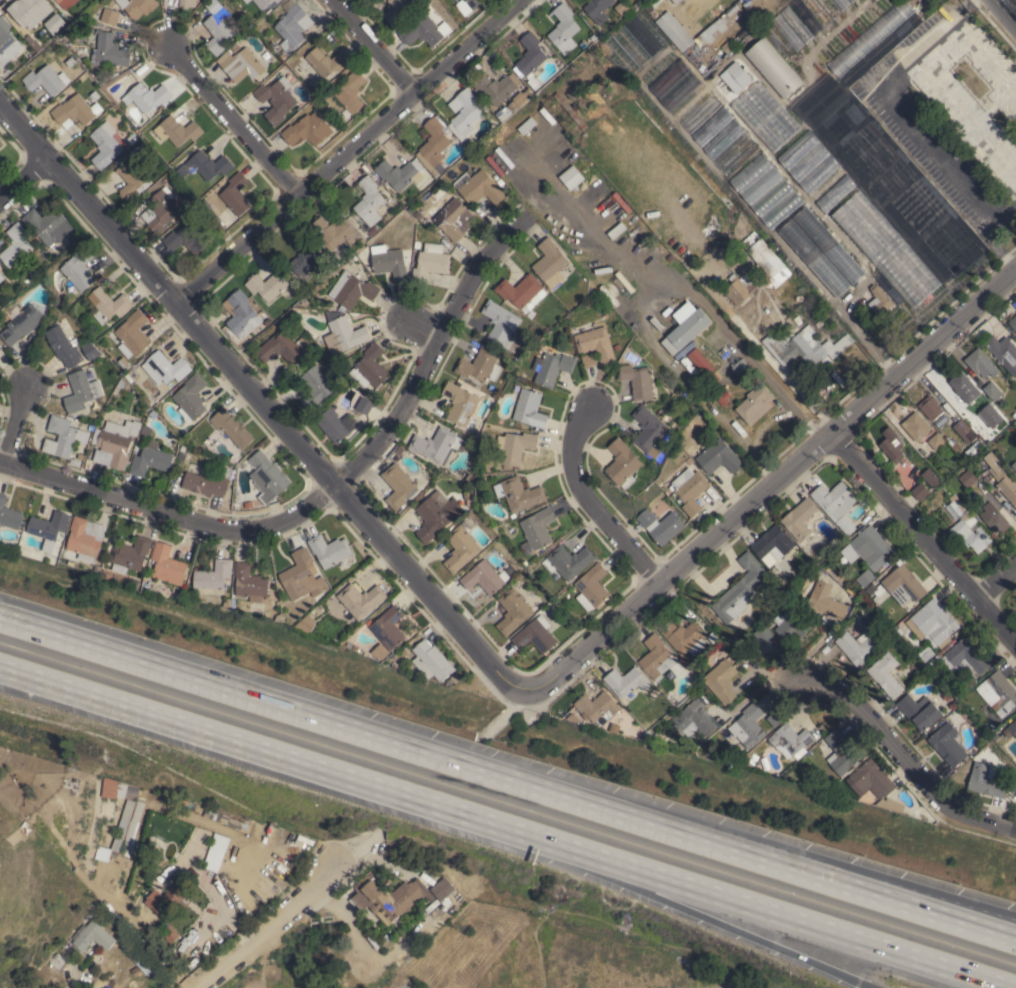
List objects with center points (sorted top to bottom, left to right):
building: (246, 1)
building: (277, 1)
building: (676, 1)
building: (66, 3)
building: (111, 3)
building: (187, 3)
building: (262, 3)
building: (473, 3)
building: (637, 4)
building: (137, 6)
building: (620, 7)
building: (597, 9)
building: (397, 10)
road: (1004, 12)
building: (32, 14)
building: (109, 15)
building: (64, 23)
building: (293, 24)
building: (217, 26)
building: (242, 26)
building: (563, 29)
road: (832, 29)
building: (698, 30)
building: (424, 31)
building: (593, 37)
building: (7, 43)
building: (33, 43)
building: (583, 43)
road: (371, 48)
building: (110, 49)
building: (283, 55)
building: (530, 55)
road: (983, 57)
building: (326, 61)
building: (70, 62)
building: (240, 64)
building: (774, 67)
building: (739, 74)
building: (46, 79)
building: (534, 83)
building: (492, 87)
building: (350, 92)
building: (574, 92)
building: (147, 96)
building: (276, 99)
building: (75, 110)
building: (570, 110)
building: (465, 113)
road: (904, 114)
road: (232, 122)
building: (527, 125)
building: (308, 129)
building: (177, 130)
building: (1, 142)
building: (105, 144)
building: (469, 144)
building: (434, 145)
road: (349, 153)
building: (205, 165)
building: (398, 173)
road: (23, 177)
building: (571, 177)
building: (131, 180)
building: (479, 187)
building: (765, 190)
building: (236, 195)
building: (369, 200)
building: (160, 210)
building: (449, 213)
building: (429, 221)
building: (46, 223)
building: (372, 230)
building: (617, 230)
building: (334, 232)
building: (185, 239)
building: (417, 244)
building: (16, 245)
building: (821, 253)
building: (304, 255)
building: (336, 257)
building: (670, 257)
building: (651, 259)
building: (762, 260)
building: (389, 262)
building: (431, 262)
building: (550, 262)
building: (79, 268)
building: (1, 277)
building: (732, 277)
building: (267, 284)
building: (352, 290)
building: (522, 292)
building: (741, 295)
building: (879, 300)
building: (55, 301)
building: (108, 304)
road: (707, 310)
building: (239, 312)
building: (857, 315)
building: (867, 318)
building: (20, 322)
building: (1013, 324)
building: (502, 325)
building: (686, 326)
road: (424, 330)
building: (132, 334)
road: (860, 334)
building: (344, 336)
building: (99, 341)
building: (63, 346)
building: (617, 346)
building: (283, 347)
building: (595, 347)
building: (801, 348)
building: (1001, 348)
building: (91, 350)
road: (430, 356)
building: (338, 359)
building: (981, 363)
building: (480, 364)
building: (704, 366)
building: (740, 366)
building: (165, 367)
building: (370, 367)
building: (551, 367)
building: (637, 380)
building: (120, 385)
building: (316, 387)
building: (965, 387)
building: (992, 390)
building: (81, 391)
building: (722, 397)
building: (191, 398)
road: (259, 401)
building: (755, 403)
building: (461, 404)
building: (364, 405)
building: (930, 407)
building: (530, 408)
building: (661, 412)
building: (668, 416)
building: (93, 417)
road: (15, 423)
building: (336, 424)
building: (916, 425)
building: (231, 427)
building: (649, 430)
building: (964, 431)
building: (64, 437)
building: (936, 441)
building: (114, 442)
building: (950, 442)
building: (436, 444)
building: (892, 445)
building: (515, 446)
building: (955, 447)
building: (183, 448)
building: (399, 449)
building: (81, 456)
building: (719, 457)
building: (150, 460)
building: (75, 461)
building: (623, 463)
building: (1014, 465)
building: (225, 469)
building: (267, 476)
building: (931, 477)
building: (967, 478)
building: (1002, 478)
building: (205, 483)
road: (771, 484)
building: (399, 485)
building: (945, 487)
building: (920, 490)
building: (691, 492)
building: (521, 494)
building: (468, 497)
building: (932, 500)
road: (592, 503)
building: (837, 503)
building: (248, 504)
building: (954, 505)
road: (170, 512)
building: (9, 514)
building: (437, 514)
building: (993, 517)
building: (799, 518)
building: (661, 524)
building: (49, 528)
building: (537, 529)
building: (969, 535)
building: (85, 538)
road: (921, 540)
building: (772, 544)
building: (461, 547)
building: (870, 547)
building: (332, 551)
building: (131, 554)
building: (568, 561)
building: (167, 564)
building: (801, 570)
building: (214, 575)
building: (302, 575)
building: (484, 577)
building: (866, 577)
building: (332, 580)
road: (995, 580)
building: (251, 582)
building: (904, 584)
building: (592, 586)
building: (740, 589)
building: (871, 589)
building: (361, 599)
building: (826, 600)
building: (227, 602)
building: (513, 611)
building: (280, 617)
building: (792, 622)
building: (933, 622)
building: (388, 628)
building: (763, 634)
building: (535, 635)
building: (684, 636)
building: (857, 647)
building: (380, 652)
building: (928, 654)
building: (655, 656)
building: (966, 658)
building: (935, 659)
building: (432, 661)
building: (396, 665)
building: (912, 667)
building: (886, 674)
building: (721, 680)
building: (626, 681)
building: (653, 691)
building: (668, 692)
building: (1000, 692)
building: (597, 707)
building: (919, 712)
road: (501, 718)
building: (695, 718)
building: (775, 718)
building: (748, 725)
building: (1011, 729)
building: (642, 732)
building: (790, 739)
building: (653, 740)
building: (947, 744)
road: (261, 749)
building: (841, 752)
road: (900, 757)
building: (726, 759)
road: (507, 779)
building: (871, 779)
building: (986, 780)
building: (110, 784)
building: (890, 803)
building: (124, 812)
building: (237, 825)
building: (133, 826)
building: (199, 828)
building: (273, 829)
building: (263, 833)
road: (752, 843)
road: (358, 849)
building: (215, 852)
building: (441, 889)
building: (388, 897)
building: (166, 898)
road: (767, 910)
road: (694, 913)
road: (268, 930)
building: (169, 933)
building: (92, 936)
building: (347, 946)
building: (406, 955)
building: (58, 961)
building: (352, 964)
building: (374, 974)
road: (69, 981)

